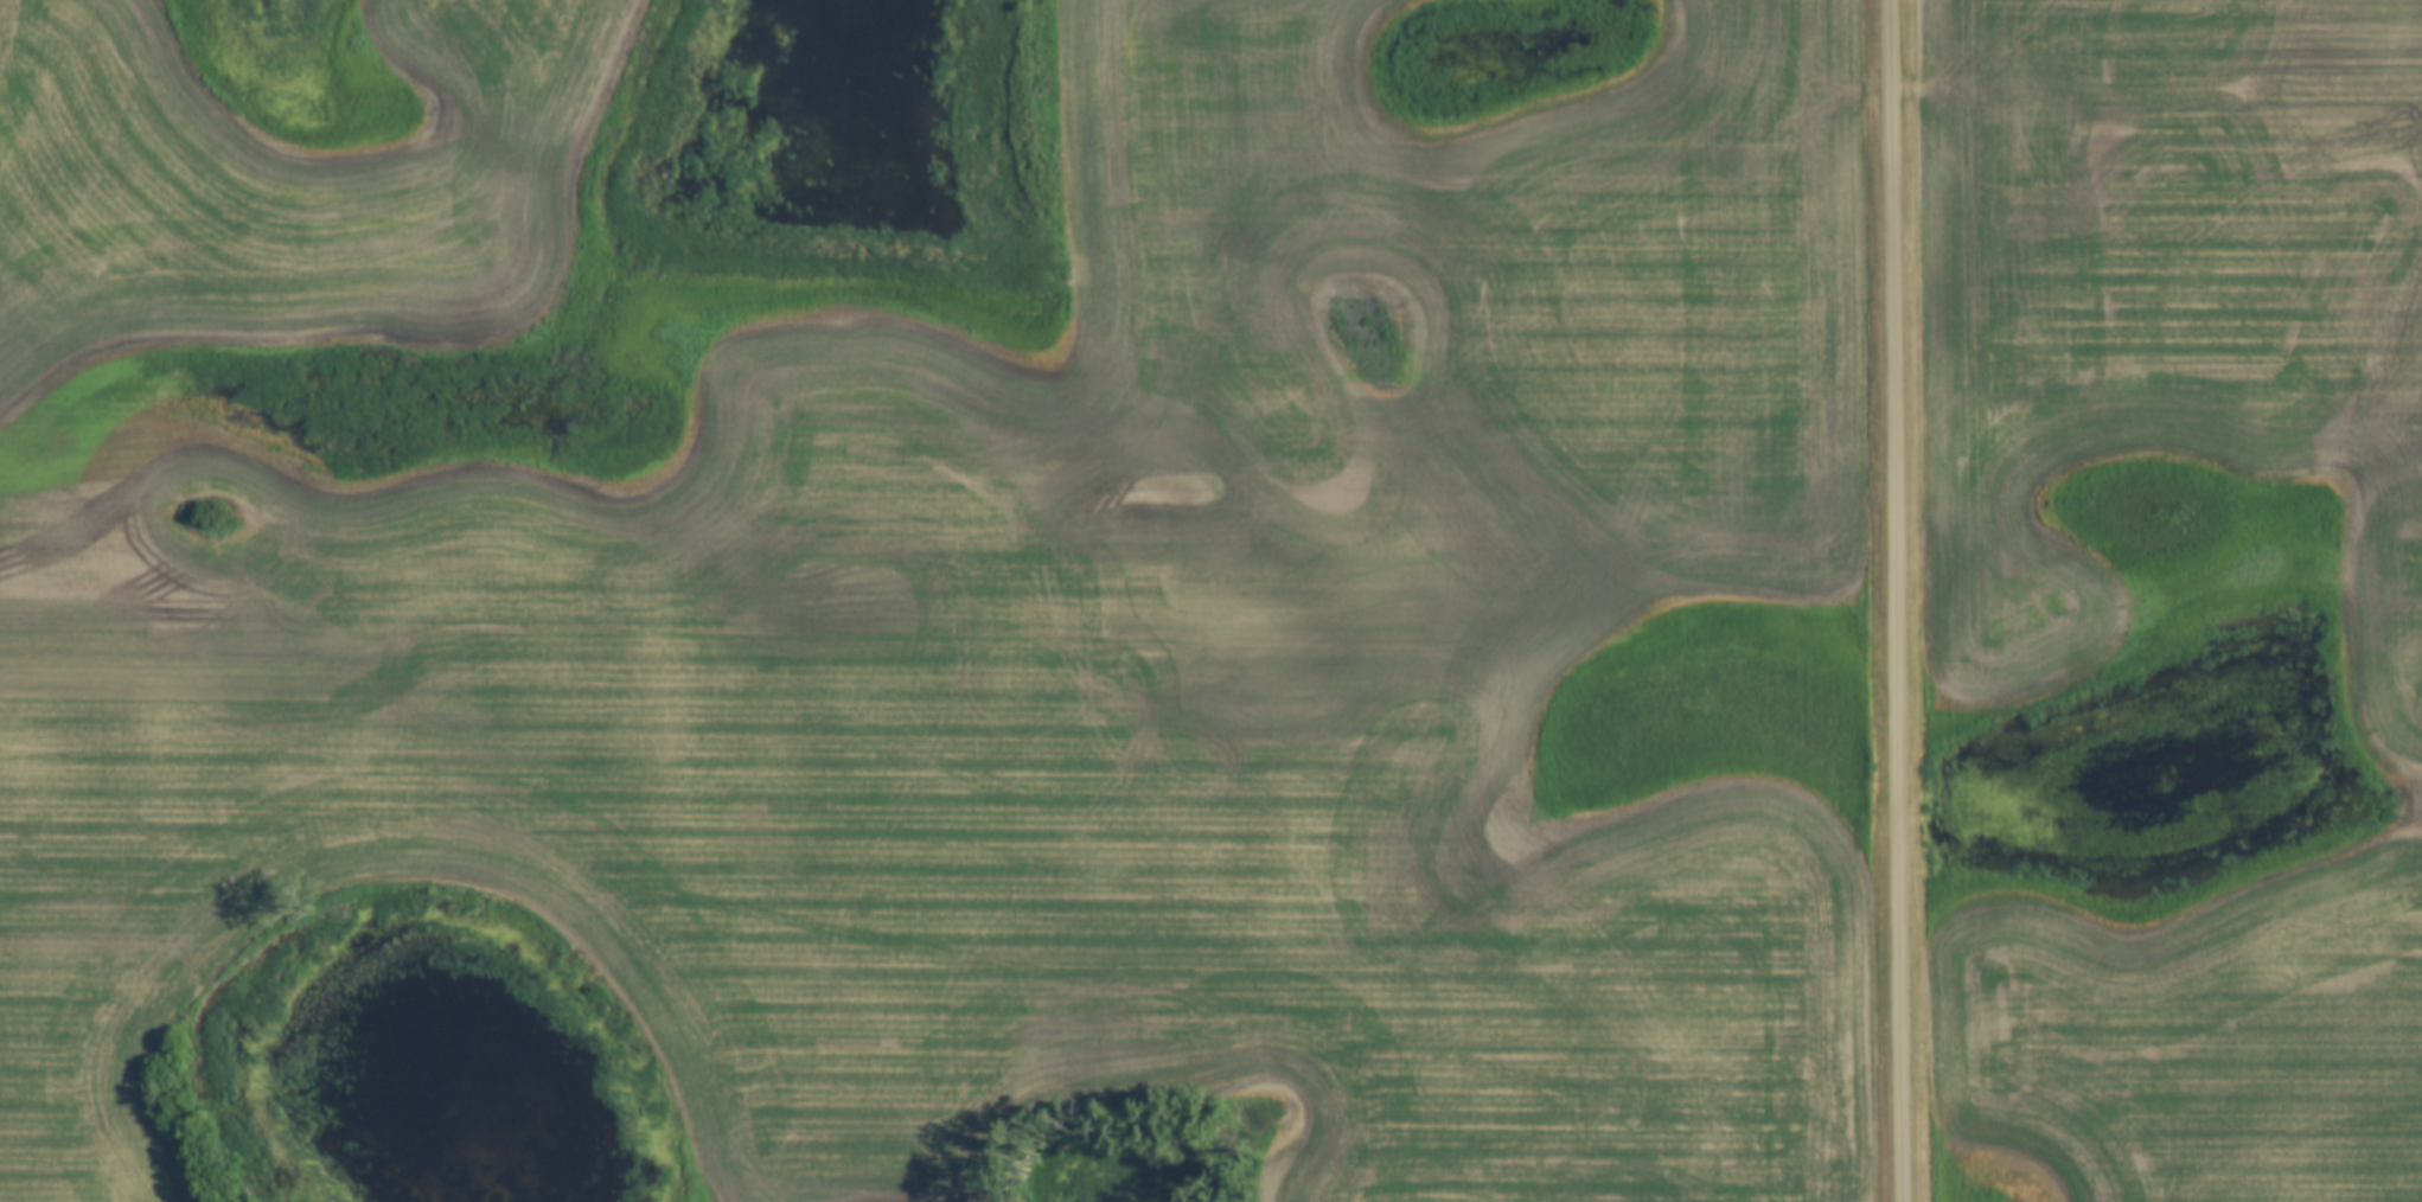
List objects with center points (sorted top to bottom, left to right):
road: (1902, 601)

